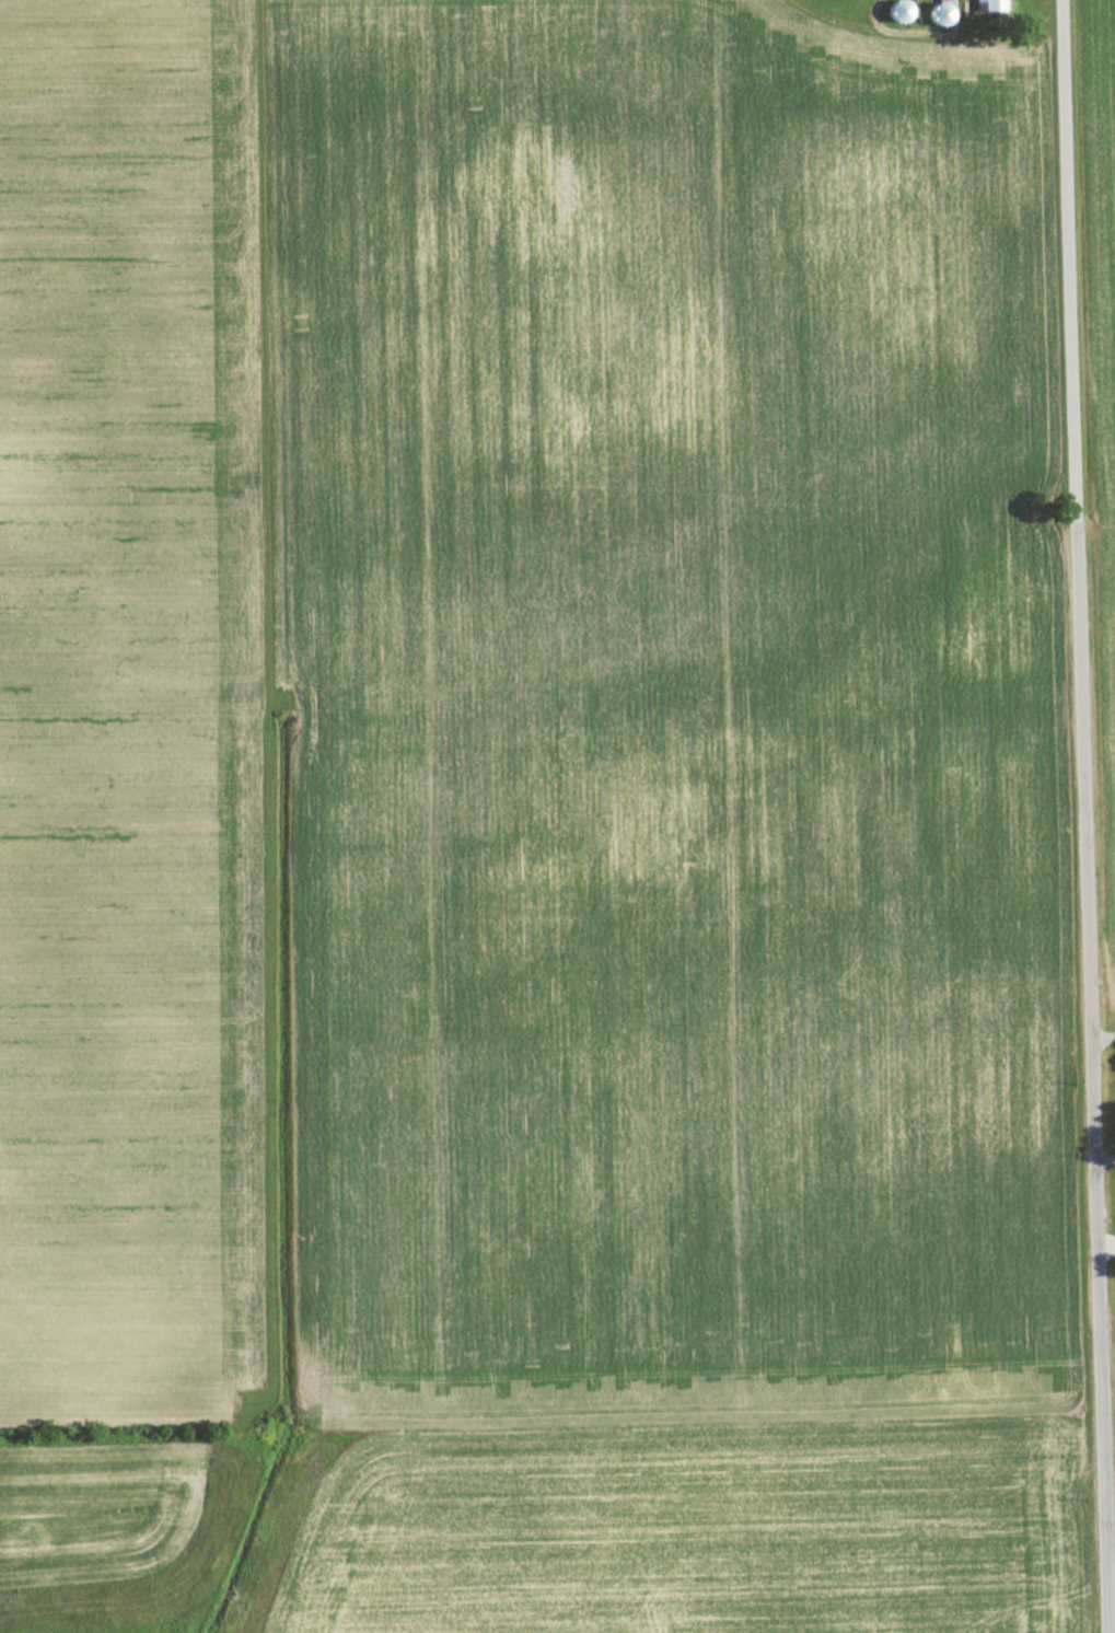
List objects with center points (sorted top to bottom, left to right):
building: (979, 4)
road: (1066, 251)
crop: (1105, 372)
crop: (131, 710)
crop: (664, 820)
road: (1090, 1067)
crop: (86, 1506)

